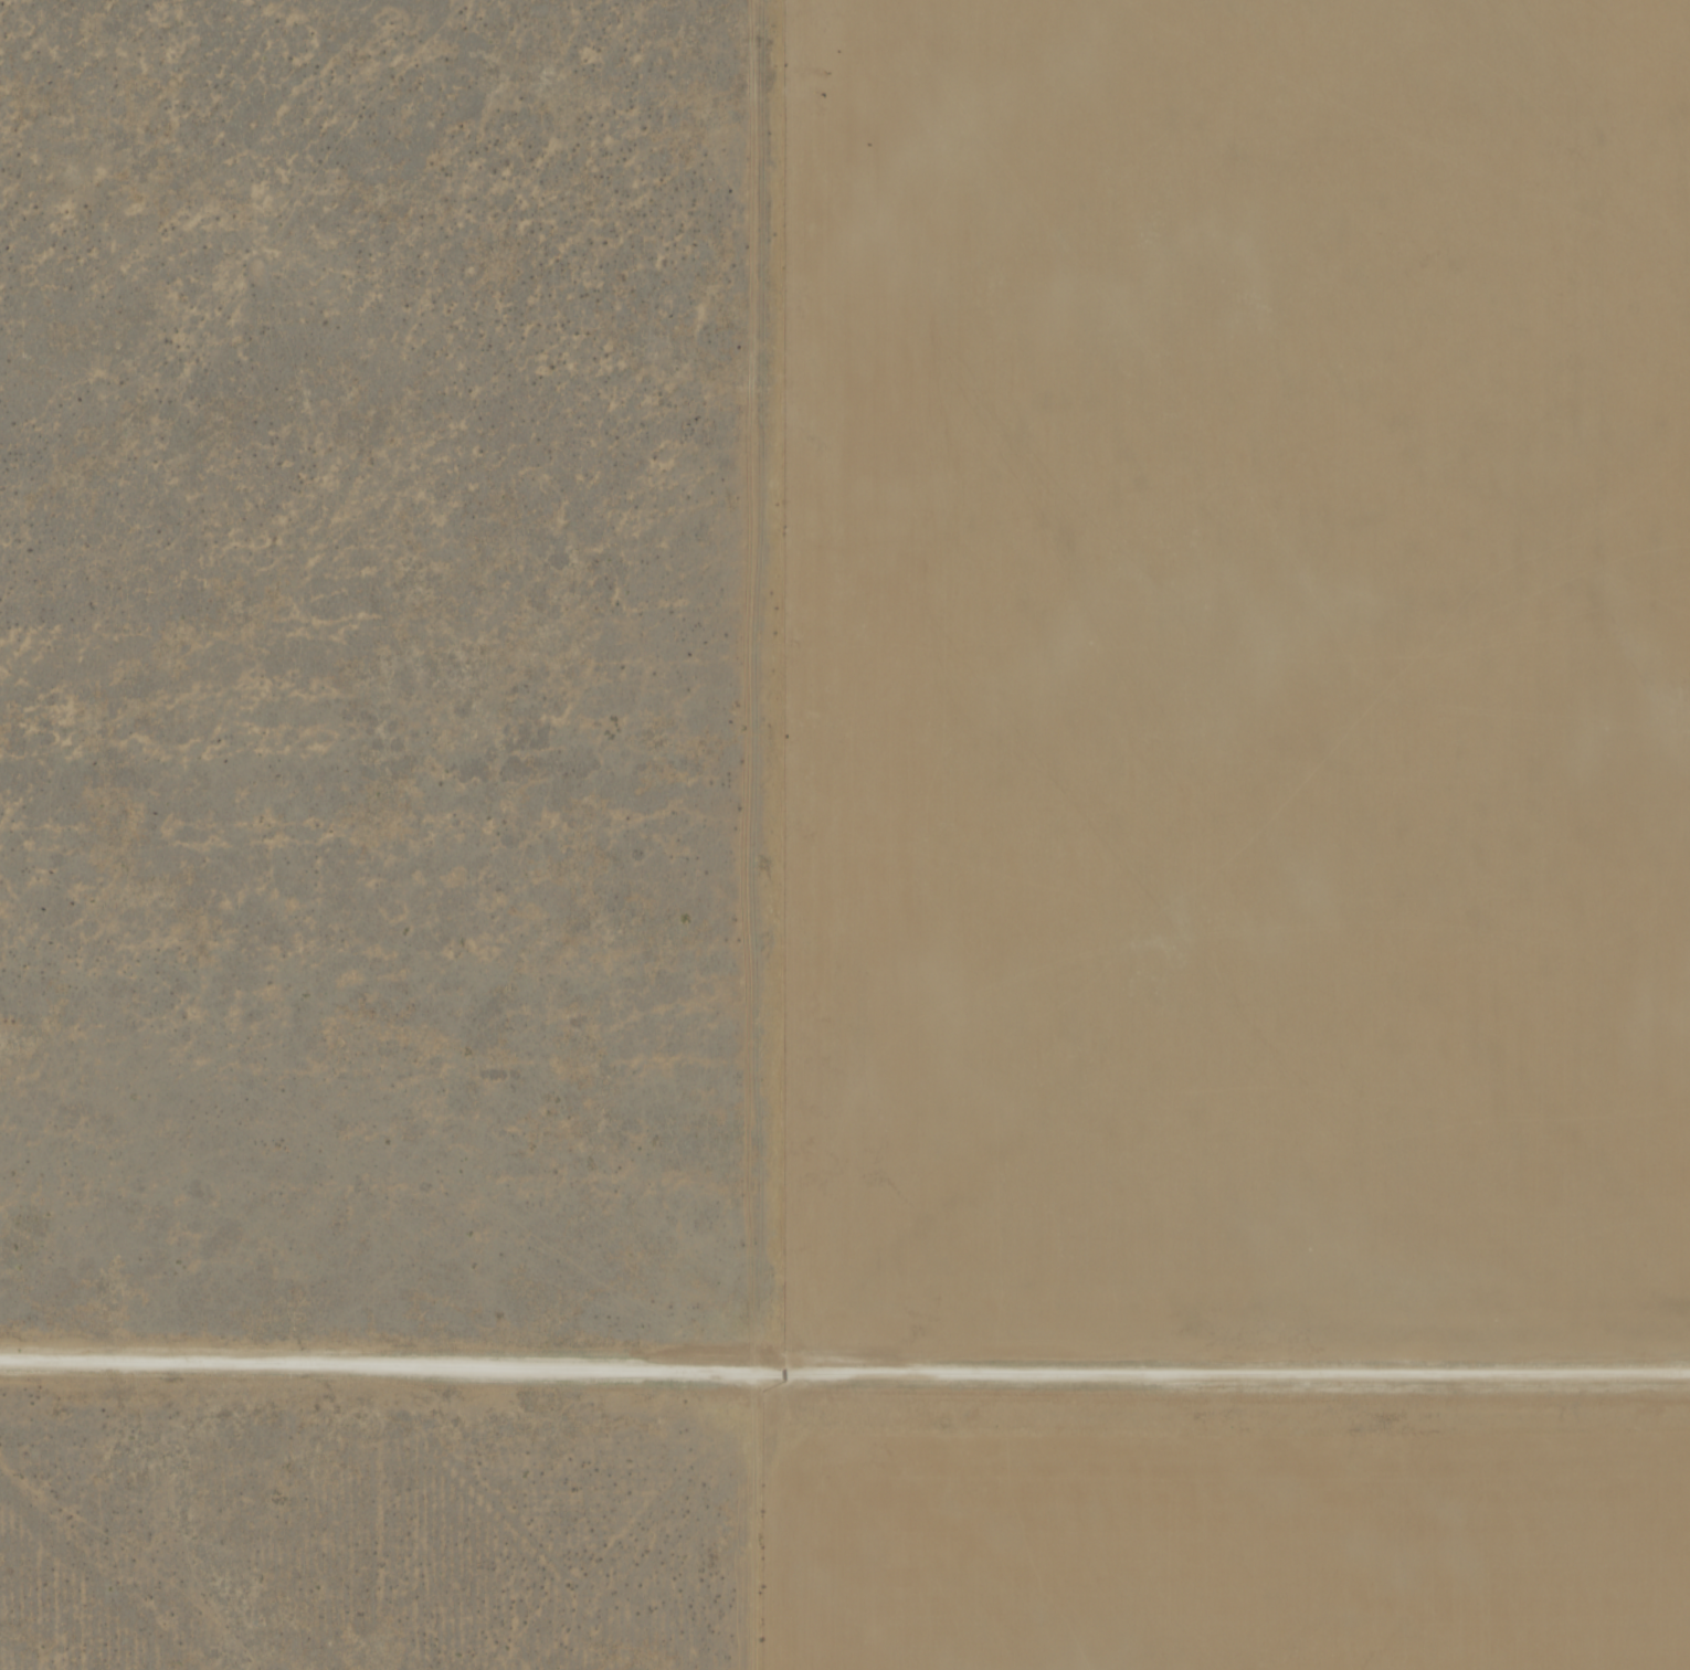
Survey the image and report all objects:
road: (844, 1373)

